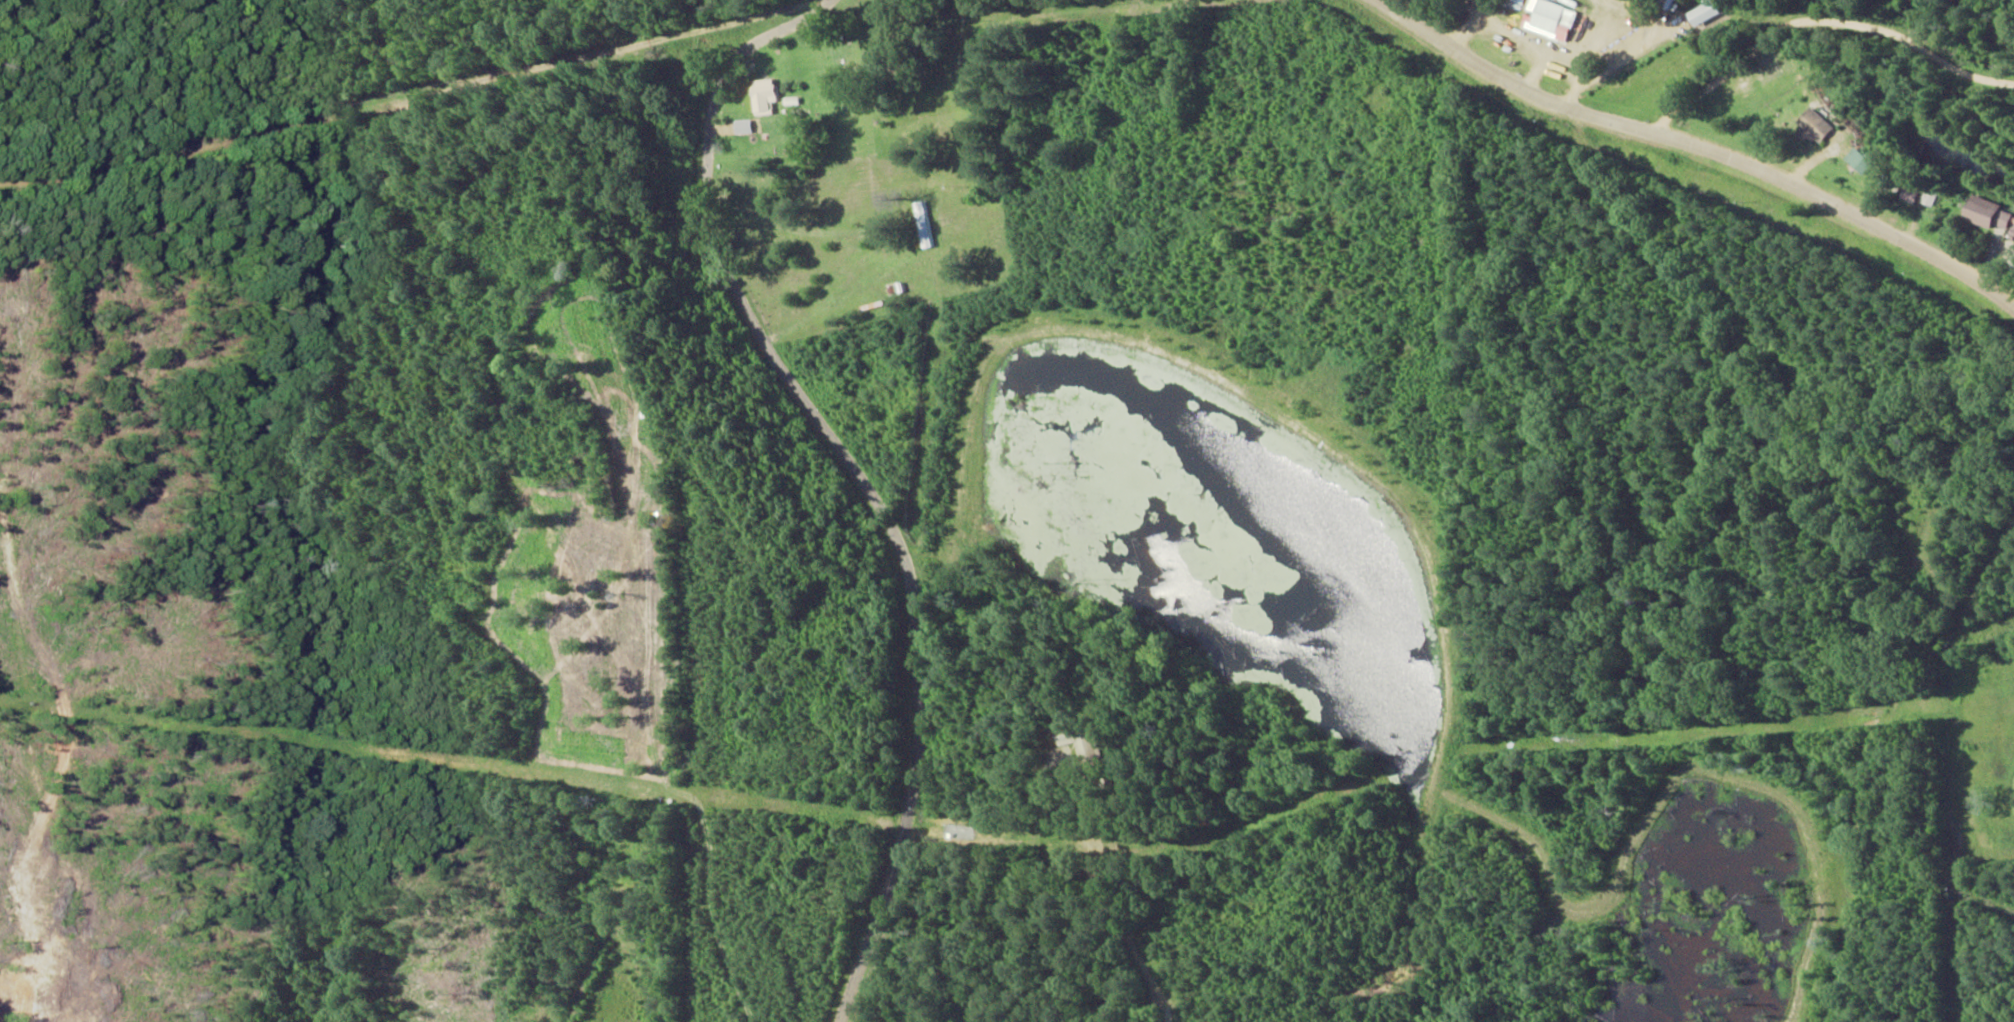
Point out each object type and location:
building: (1701, 14)
building: (1547, 19)
building: (769, 95)
building: (747, 125)
building: (1813, 127)
road: (1698, 147)
building: (1857, 161)
road: (854, 473)
road: (1957, 781)

